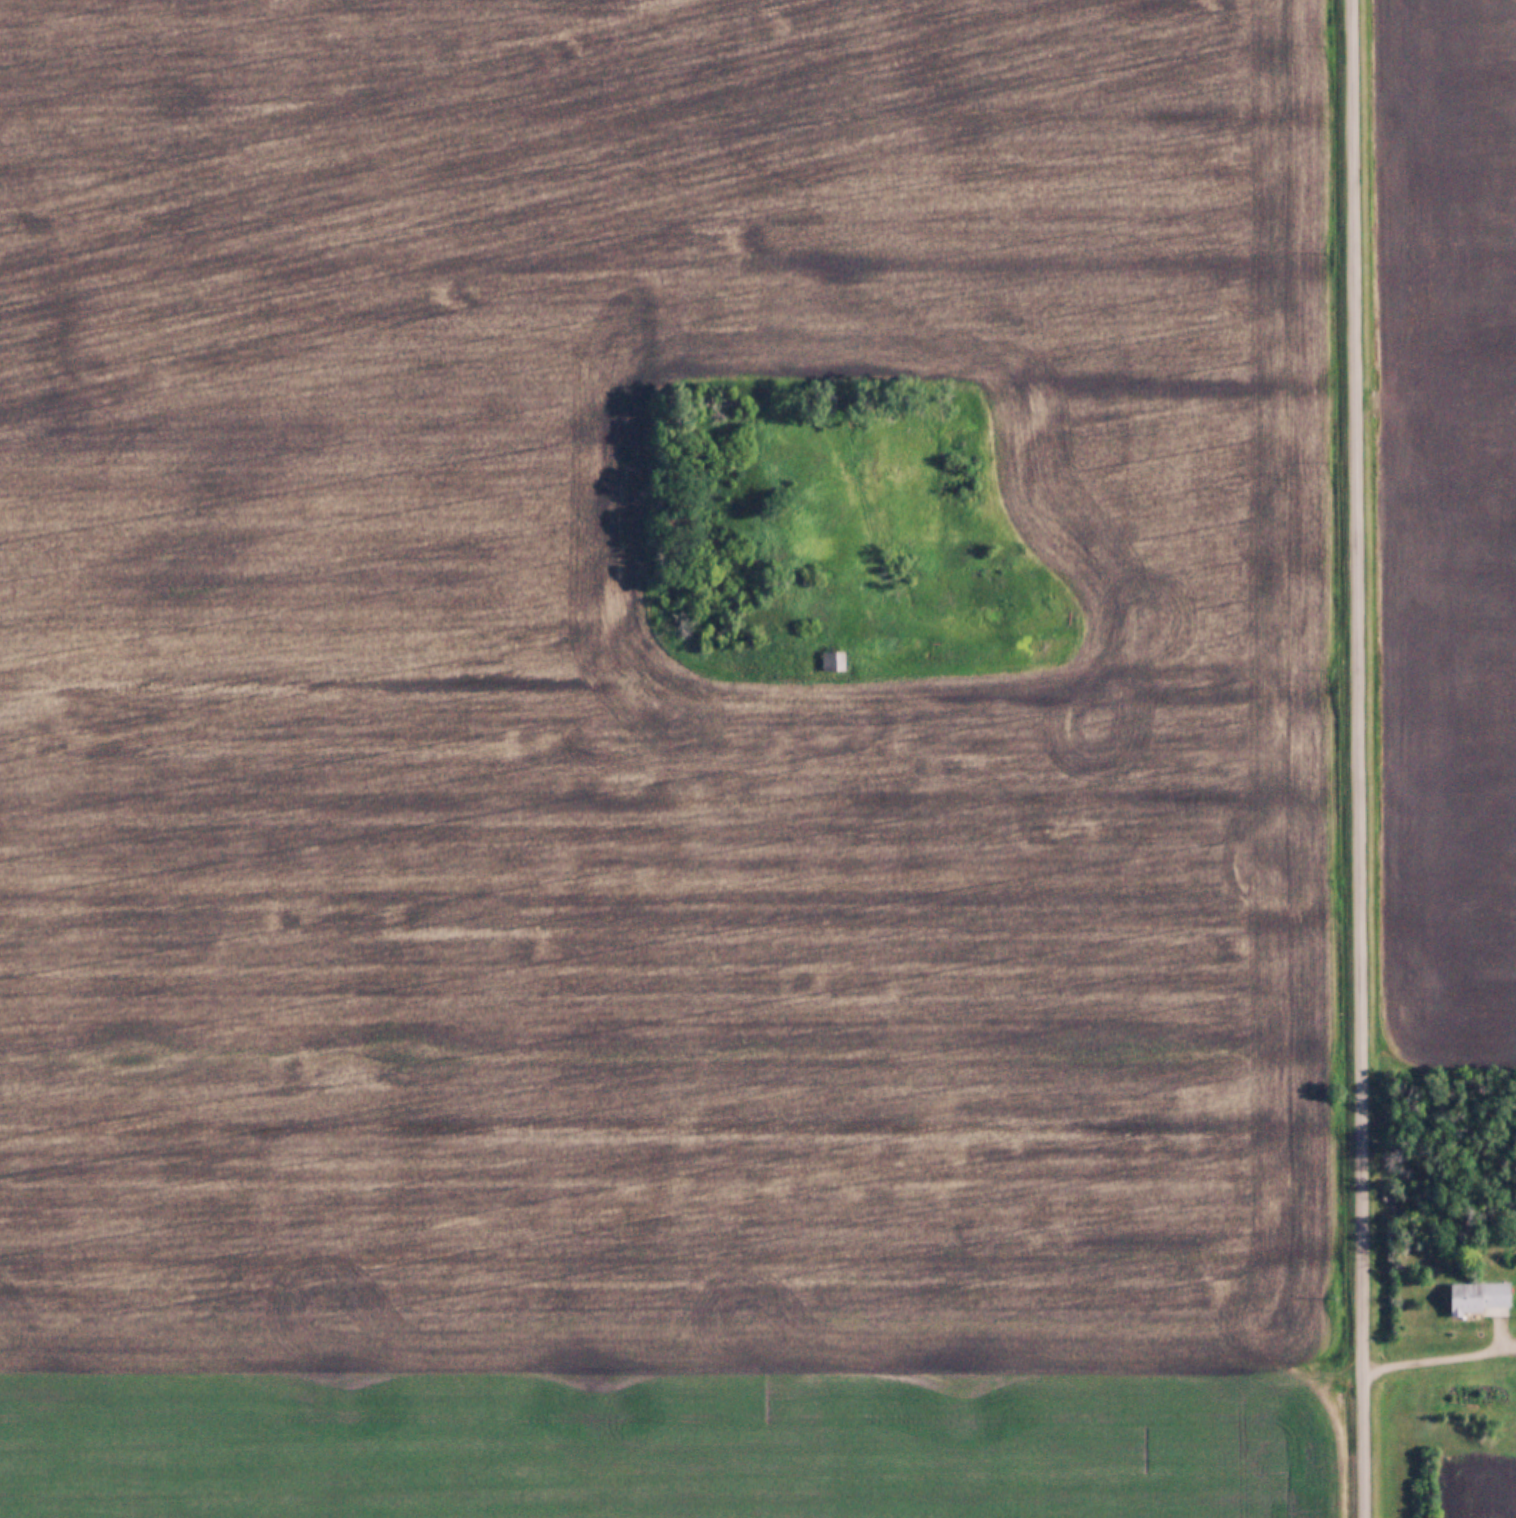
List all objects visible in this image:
crop: (1449, 519)
crop: (669, 692)
road: (1359, 758)
road: (1440, 1356)
crop: (668, 1451)
crop: (1483, 1485)

